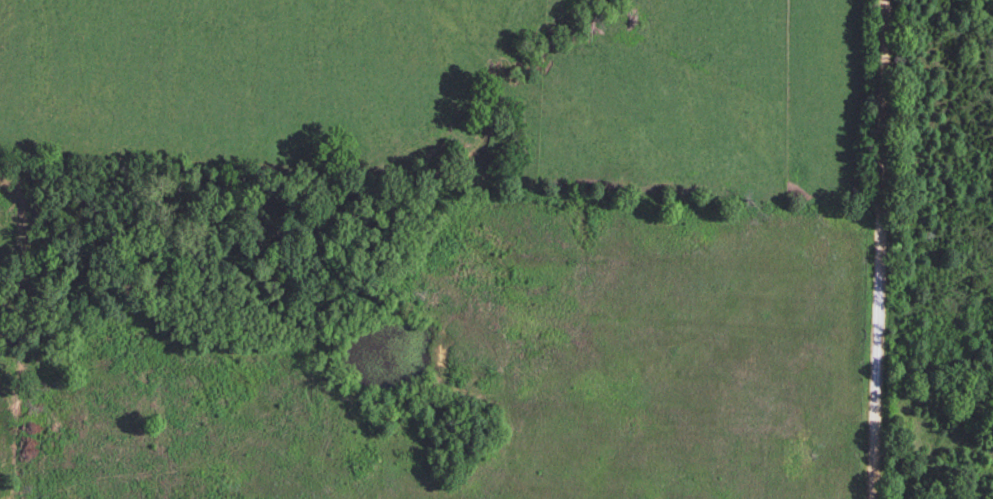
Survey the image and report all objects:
road: (879, 249)

